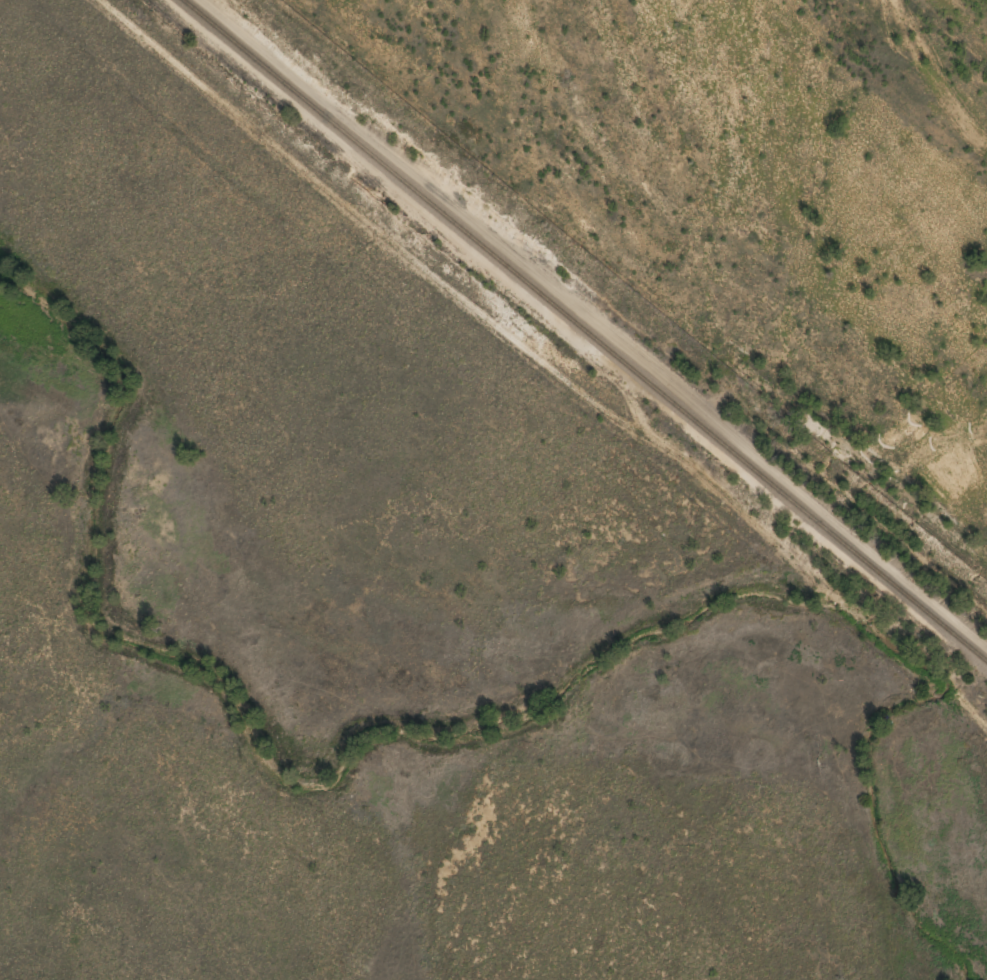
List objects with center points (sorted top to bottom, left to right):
railway: (584, 331)

